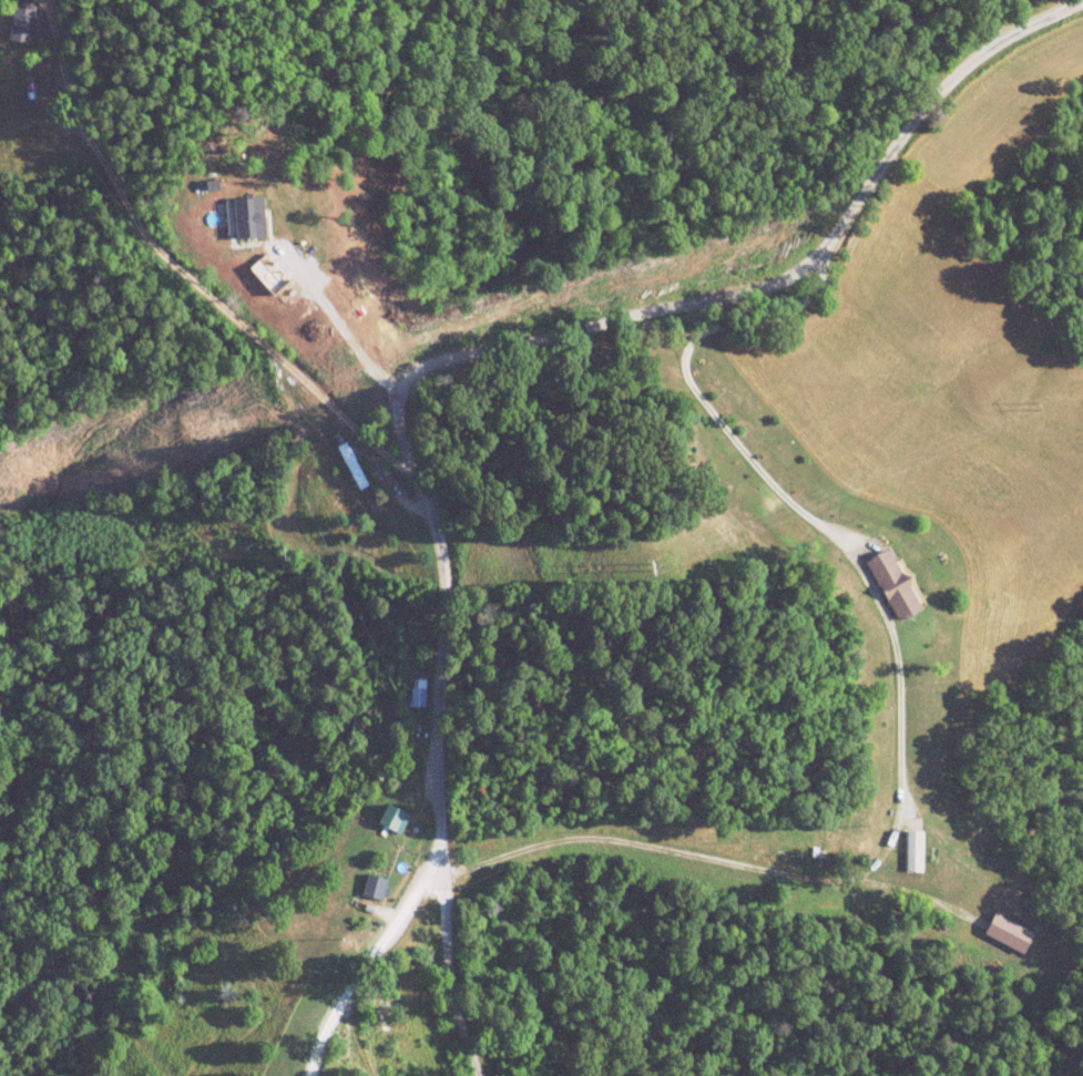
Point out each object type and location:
building: (23, 22)
road: (436, 363)
building: (353, 464)
building: (376, 468)
building: (418, 697)
building: (406, 824)
building: (915, 846)
building: (384, 871)
building: (353, 895)
building: (1010, 933)
road: (459, 973)

